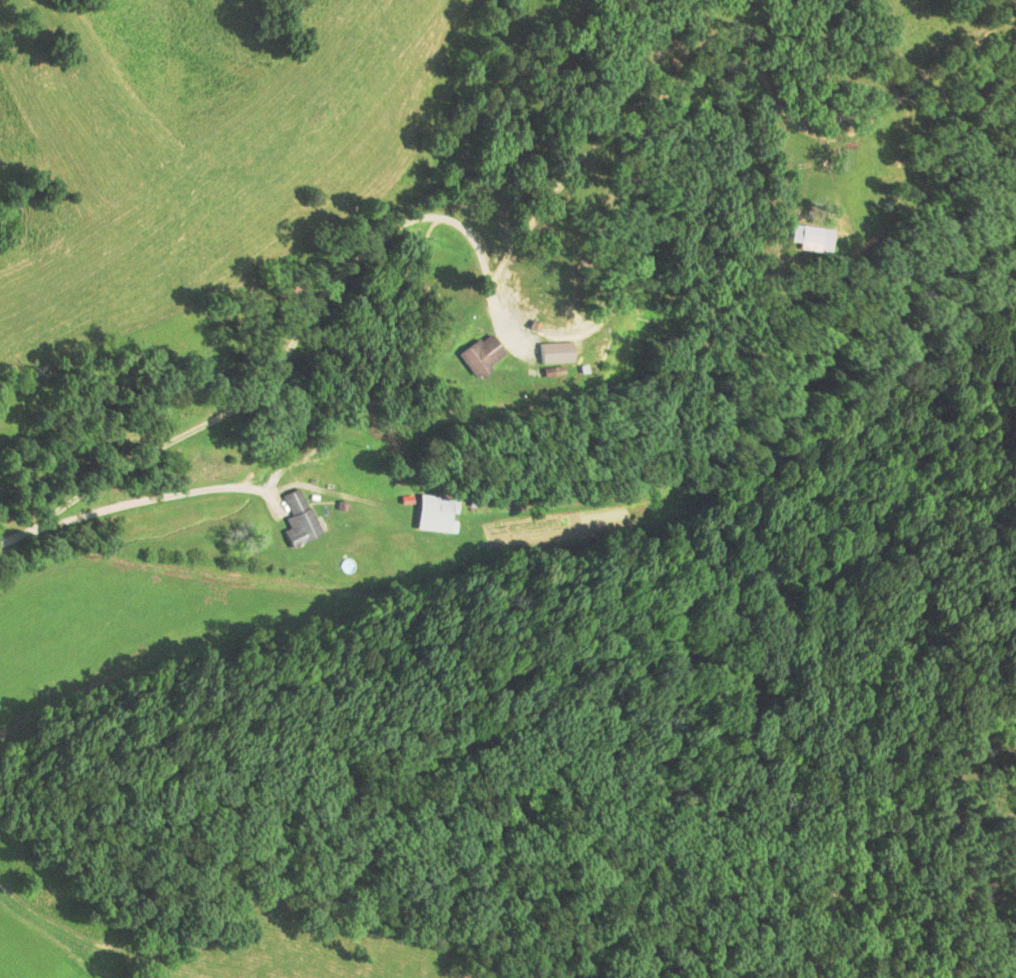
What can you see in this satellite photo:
building: (809, 238)
building: (554, 353)
road: (290, 355)
building: (480, 355)
road: (141, 502)
building: (434, 513)
building: (298, 518)

